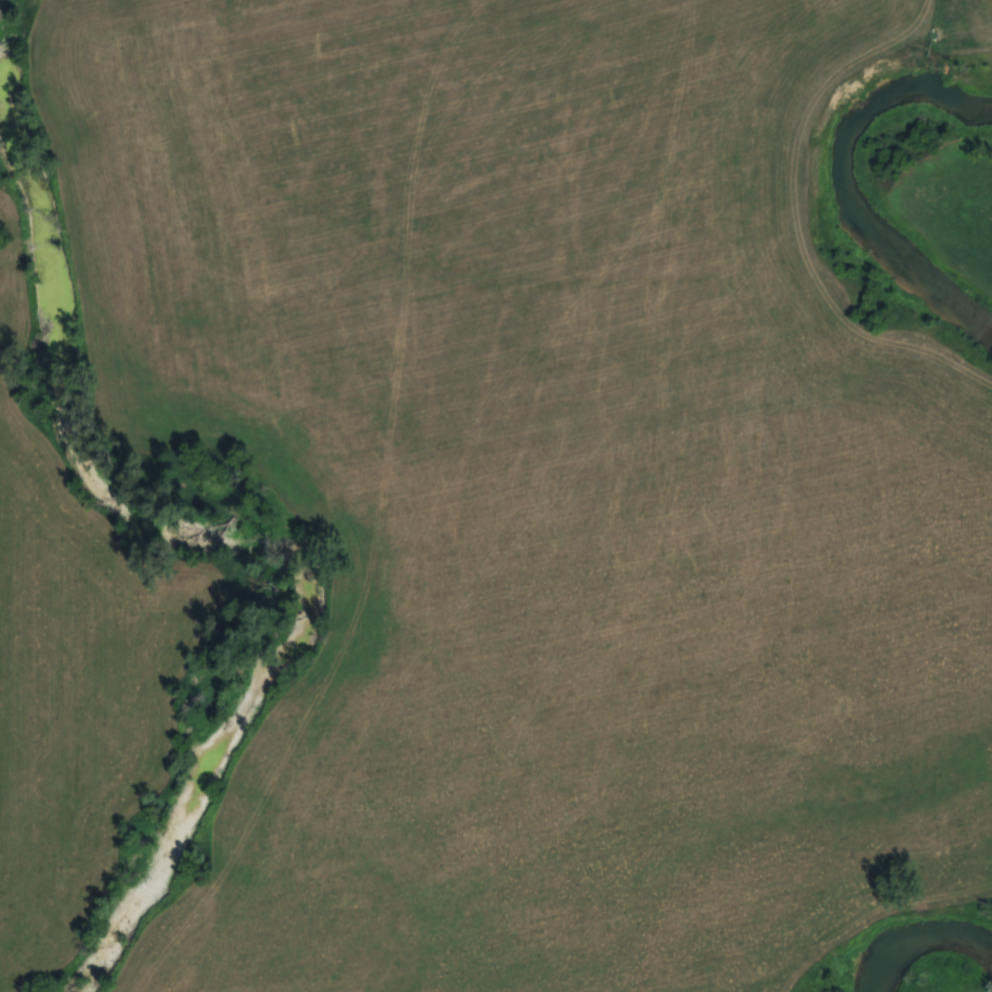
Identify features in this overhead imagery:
river: (860, 174)
river: (917, 938)

